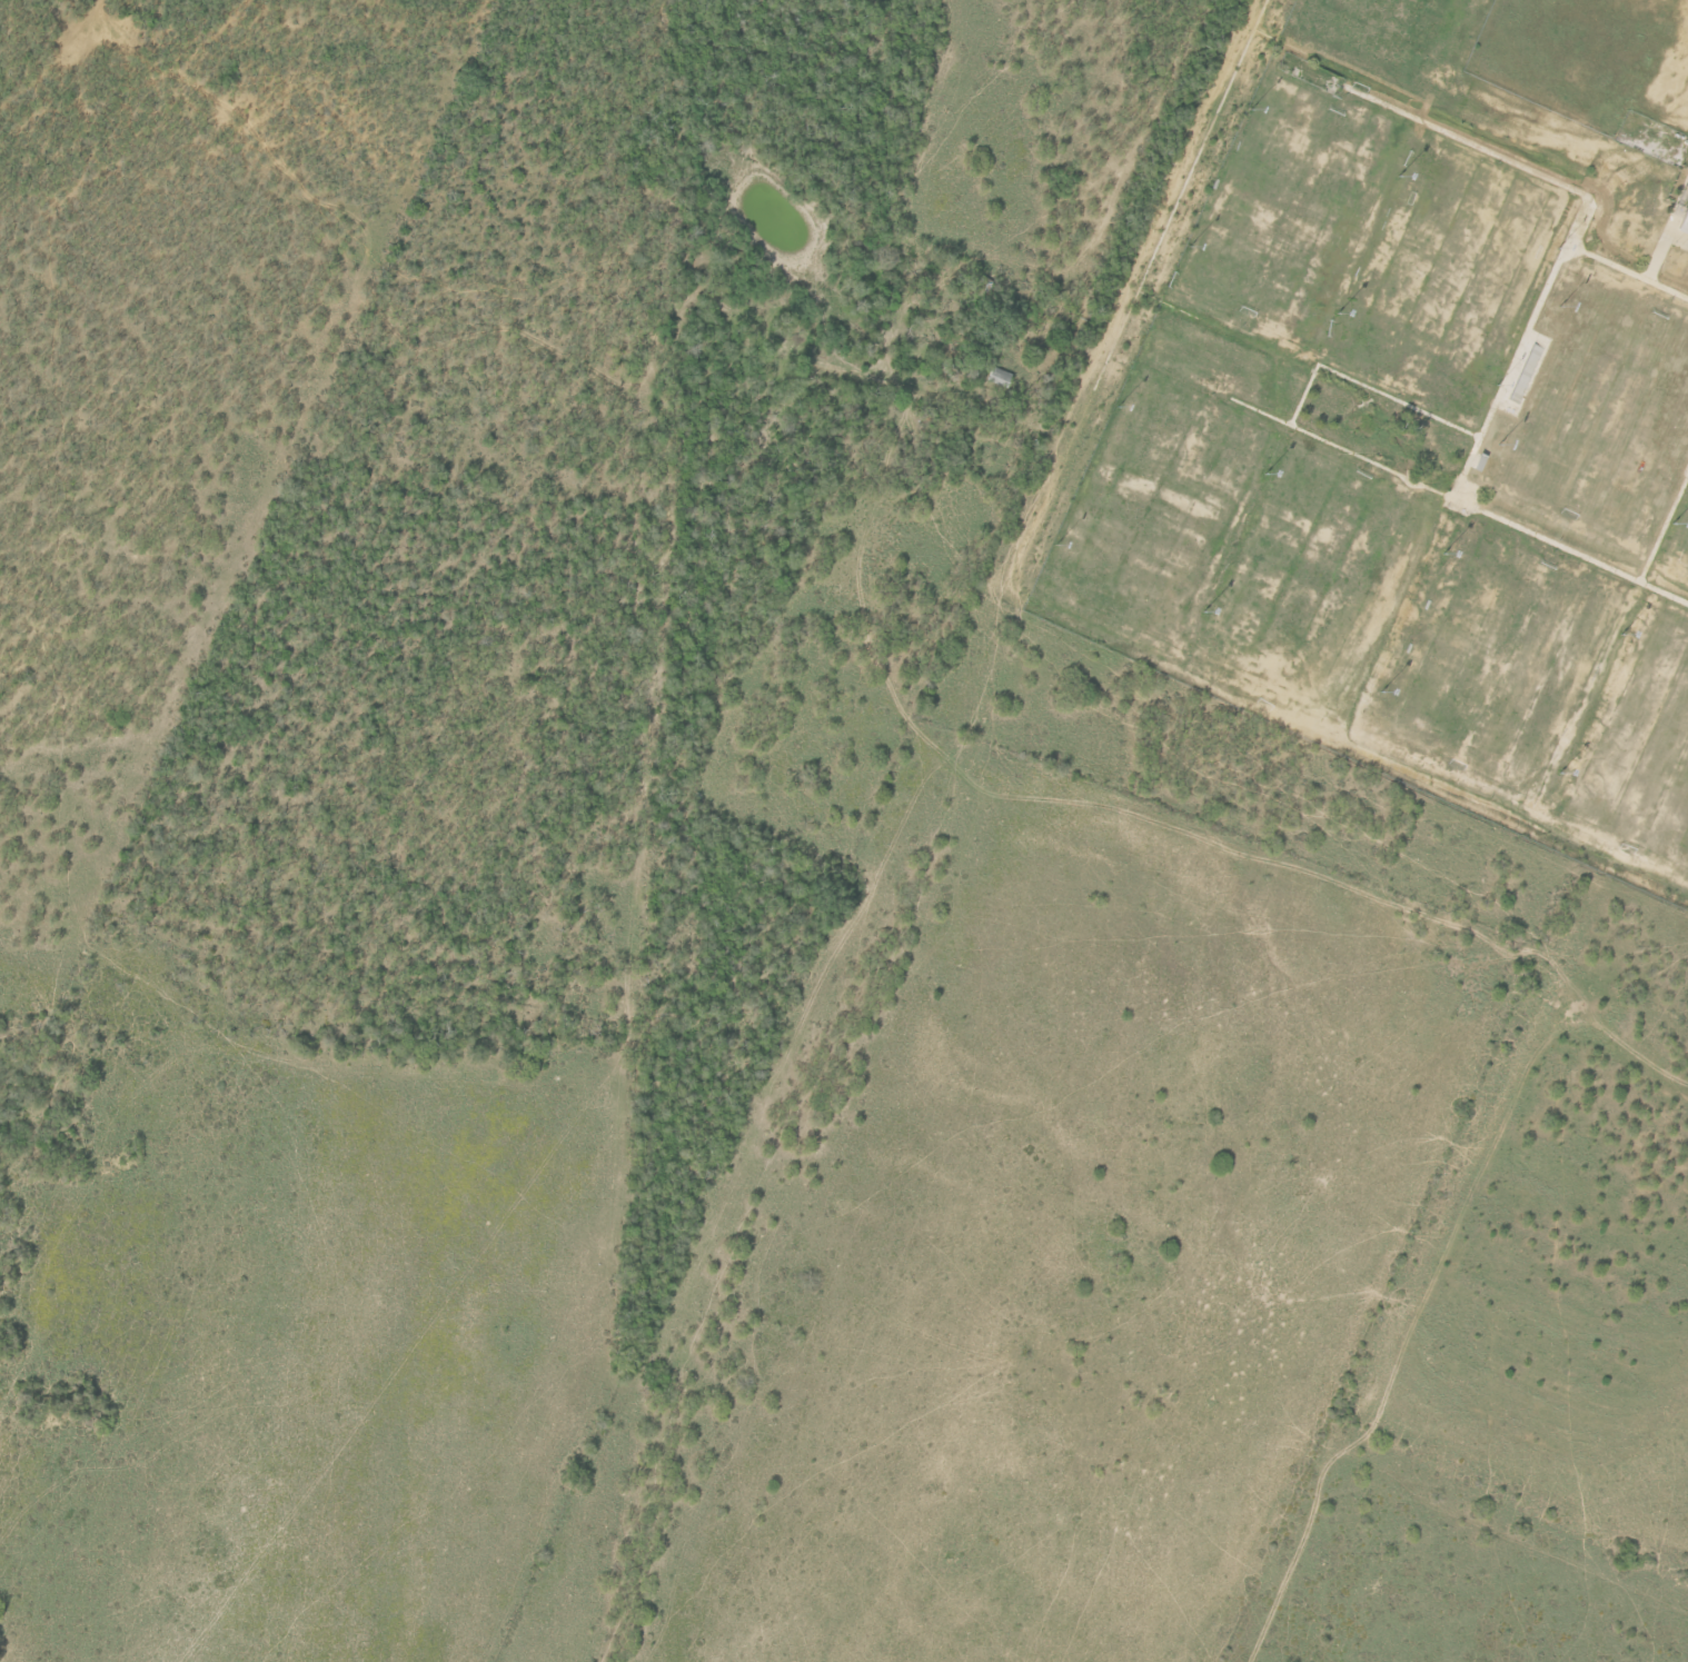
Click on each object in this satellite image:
building: (1681, 222)
road: (1671, 1624)

